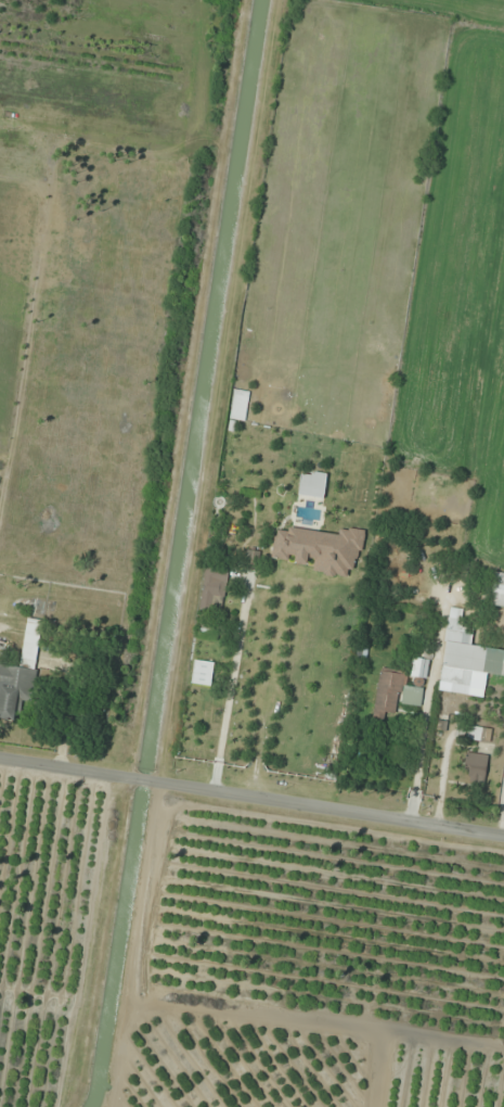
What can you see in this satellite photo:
building: (251, 560)
building: (214, 588)
building: (497, 591)
building: (207, 631)
building: (31, 642)
building: (466, 654)
building: (14, 689)
building: (393, 695)
building: (476, 734)
building: (475, 767)
road: (251, 802)

